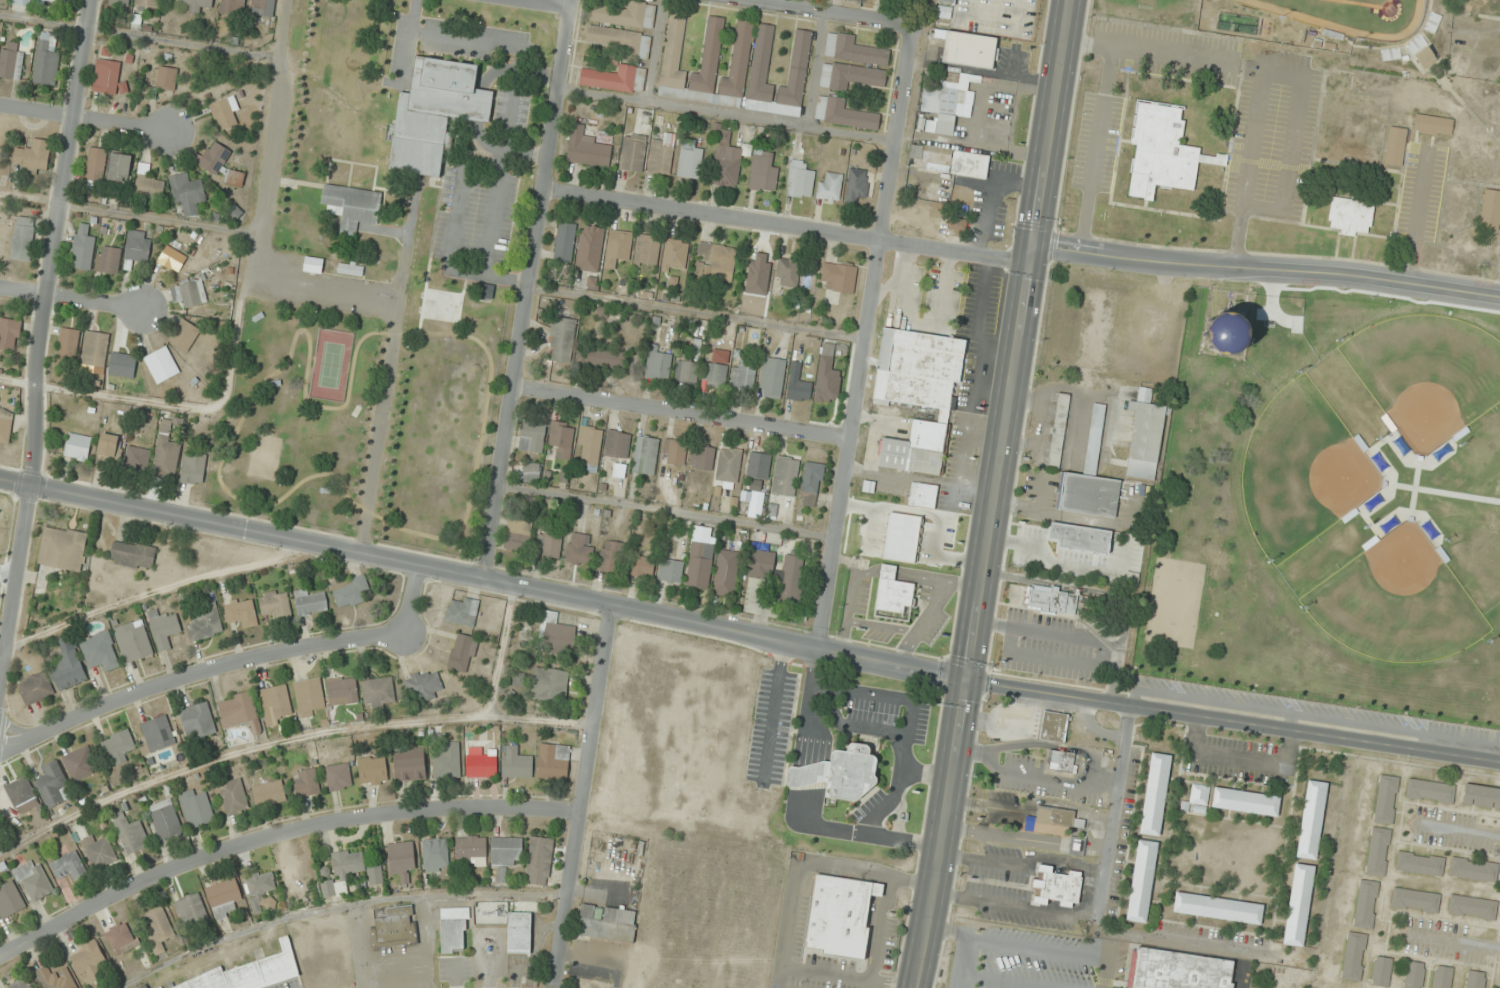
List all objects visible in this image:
building: (57, 1)
building: (947, 1)
building: (18, 2)
building: (121, 2)
building: (147, 3)
road: (546, 3)
road: (570, 3)
park: (1161, 4)
building: (197, 5)
building: (232, 6)
building: (262, 7)
road: (831, 12)
building: (624, 15)
park: (1357, 15)
building: (1432, 22)
road: (284, 27)
building: (622, 40)
building: (854, 50)
building: (970, 50)
road: (652, 51)
road: (1146, 54)
building: (1425, 56)
building: (761, 57)
building: (47, 58)
building: (11, 61)
building: (1299, 61)
building: (705, 63)
road: (815, 69)
road: (1270, 71)
building: (107, 76)
building: (850, 76)
building: (164, 77)
building: (615, 78)
building: (1336, 91)
building: (947, 102)
building: (435, 112)
building: (844, 113)
building: (223, 114)
road: (726, 114)
building: (1494, 116)
road: (85, 120)
building: (1432, 125)
building: (1329, 136)
building: (1367, 136)
building: (1395, 145)
building: (587, 148)
building: (1160, 150)
road: (1095, 151)
building: (633, 153)
building: (33, 155)
building: (662, 155)
building: (214, 157)
building: (690, 159)
building: (727, 161)
building: (948, 161)
building: (96, 164)
building: (119, 167)
building: (763, 172)
building: (800, 180)
building: (857, 184)
building: (830, 186)
building: (150, 187)
building: (187, 193)
building: (352, 206)
building: (1490, 209)
road: (130, 213)
building: (1350, 215)
road: (1415, 217)
road: (261, 218)
building: (958, 224)
road: (787, 226)
road: (883, 231)
building: (23, 238)
road: (52, 241)
building: (564, 242)
building: (138, 246)
building: (618, 247)
building: (83, 248)
building: (590, 248)
building: (647, 250)
traffic signals: (1032, 253)
building: (675, 255)
building: (172, 256)
building: (716, 256)
building: (108, 259)
building: (314, 264)
building: (351, 268)
road: (1265, 270)
building: (787, 273)
building: (758, 274)
building: (840, 276)
building: (486, 291)
road: (525, 292)
building: (192, 293)
road: (69, 298)
road: (696, 313)
building: (1225, 333)
building: (10, 334)
building: (184, 334)
building: (562, 340)
building: (68, 344)
building: (95, 352)
building: (602, 357)
building: (659, 363)
building: (123, 364)
building: (162, 365)
building: (686, 371)
park: (1426, 371)
building: (715, 375)
building: (743, 376)
building: (771, 376)
building: (800, 390)
building: (918, 394)
road: (180, 406)
road: (681, 412)
park: (367, 415)
building: (5, 425)
building: (1058, 430)
building: (1145, 436)
building: (532, 437)
building: (562, 438)
building: (78, 446)
building: (617, 446)
building: (108, 448)
building: (167, 448)
building: (589, 448)
building: (674, 452)
building: (645, 454)
building: (702, 457)
building: (137, 458)
building: (729, 464)
building: (758, 465)
park: (1299, 467)
building: (193, 468)
building: (531, 471)
building: (785, 476)
park: (1315, 477)
building: (1090, 478)
building: (811, 484)
road: (996, 494)
building: (923, 495)
road: (666, 511)
road: (241, 528)
building: (518, 535)
building: (1081, 538)
road: (836, 543)
building: (549, 544)
building: (63, 548)
building: (579, 548)
building: (132, 555)
building: (609, 556)
building: (700, 557)
building: (643, 567)
building: (1447, 568)
building: (670, 570)
building: (726, 573)
building: (779, 573)
road: (14, 581)
road: (155, 591)
road: (549, 591)
building: (350, 592)
building: (893, 595)
park: (1395, 598)
building: (1051, 600)
building: (310, 602)
building: (275, 604)
building: (241, 612)
building: (462, 612)
building: (205, 623)
building: (163, 628)
building: (555, 635)
building: (133, 641)
road: (499, 649)
building: (99, 651)
building: (462, 652)
building: (68, 664)
road: (230, 666)
traffic signals: (969, 682)
building: (423, 685)
building: (549, 685)
building: (35, 688)
building: (342, 691)
building: (378, 693)
road: (1055, 695)
building: (309, 697)
building: (275, 704)
building: (239, 712)
building: (1003, 719)
building: (197, 721)
building: (1054, 726)
building: (157, 733)
road: (288, 739)
building: (118, 746)
building: (447, 761)
building: (553, 761)
building: (1061, 761)
building: (516, 762)
building: (79, 763)
building: (409, 764)
building: (482, 764)
building: (373, 770)
building: (840, 773)
building: (339, 776)
building: (306, 782)
building: (52, 784)
building: (1430, 791)
building: (269, 793)
building: (1199, 793)
building: (21, 794)
building: (1155, 794)
road: (584, 796)
building: (1481, 796)
building: (233, 797)
building: (1386, 799)
building: (1245, 801)
building: (1184, 805)
building: (196, 808)
building: (1200, 809)
building: (164, 819)
building: (1311, 819)
building: (1052, 821)
building: (129, 832)
road: (279, 836)
building: (1076, 845)
building: (471, 849)
building: (99, 851)
building: (506, 851)
building: (1378, 851)
building: (435, 855)
building: (401, 859)
building: (539, 861)
building: (1420, 863)
building: (68, 864)
building: (356, 866)
building: (1473, 869)
building: (33, 880)
building: (1142, 881)
building: (260, 883)
building: (1056, 886)
building: (334, 888)
building: (224, 898)
building: (10, 900)
building: (1415, 900)
building: (1366, 904)
building: (1298, 905)
road: (333, 906)
building: (1472, 907)
building: (1218, 908)
building: (190, 910)
building: (840, 916)
building: (607, 923)
building: (157, 928)
building: (395, 928)
building: (454, 930)
building: (519, 933)
building: (120, 938)
building: (1354, 956)
building: (87, 959)
building: (1179, 970)
building: (1381, 971)
building: (1413, 974)
building: (1442, 977)
building: (57, 978)
building: (1475, 979)
building: (20, 984)

